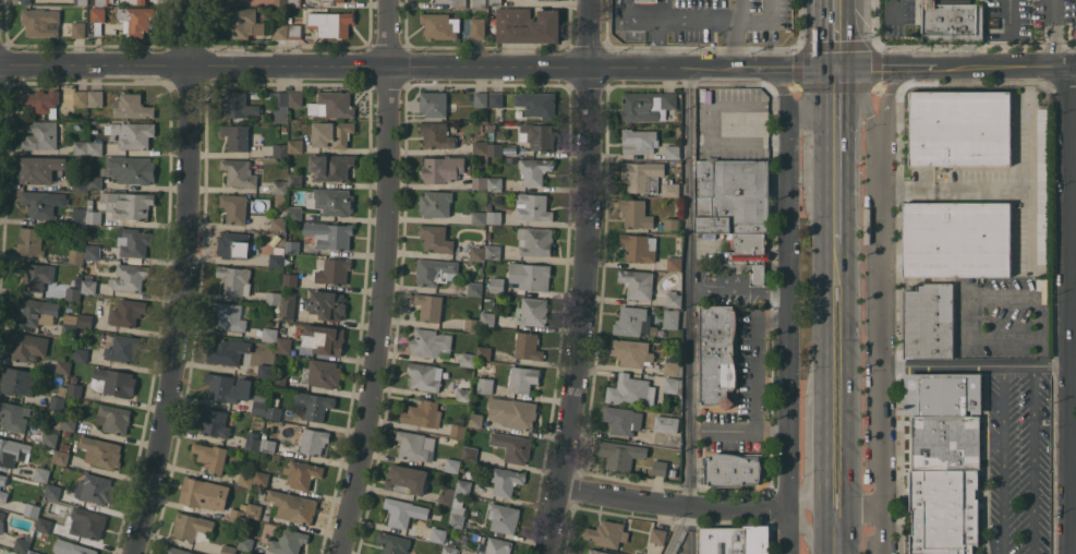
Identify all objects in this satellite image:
building: (230, 0)
building: (333, 0)
building: (648, 0)
building: (26, 1)
building: (142, 1)
building: (495, 1)
building: (81, 2)
building: (99, 2)
building: (280, 2)
building: (295, 3)
building: (479, 3)
building: (461, 4)
road: (1012, 10)
road: (739, 11)
building: (97, 17)
building: (136, 19)
building: (290, 19)
building: (952, 20)
building: (40, 22)
building: (242, 22)
road: (698, 22)
building: (330, 23)
building: (439, 25)
building: (528, 25)
building: (477, 27)
building: (78, 29)
building: (280, 31)
building: (295, 31)
road: (1056, 33)
road: (838, 34)
road: (737, 45)
road: (383, 65)
road: (802, 68)
road: (957, 68)
traffic signals: (838, 69)
building: (81, 97)
building: (96, 97)
building: (295, 98)
building: (481, 98)
building: (496, 98)
road: (815, 99)
building: (41, 100)
building: (238, 104)
building: (333, 104)
building: (435, 104)
building: (537, 104)
building: (646, 105)
building: (132, 106)
building: (279, 106)
road: (860, 106)
building: (493, 127)
building: (960, 127)
building: (454, 128)
road: (1073, 131)
building: (133, 133)
building: (331, 133)
building: (40, 135)
building: (437, 135)
building: (539, 135)
building: (237, 136)
building: (639, 140)
building: (295, 145)
building: (96, 146)
building: (481, 146)
building: (81, 147)
building: (495, 148)
building: (280, 149)
building: (673, 152)
road: (838, 164)
building: (330, 167)
building: (40, 168)
building: (442, 168)
building: (132, 169)
building: (534, 169)
building: (242, 171)
building: (642, 176)
building: (295, 179)
building: (81, 182)
building: (95, 182)
building: (480, 182)
building: (495, 183)
building: (1041, 185)
building: (280, 186)
building: (670, 186)
building: (291, 191)
road: (1018, 191)
building: (336, 202)
building: (43, 203)
building: (435, 203)
building: (128, 204)
building: (532, 206)
building: (234, 207)
building: (735, 208)
building: (294, 212)
building: (93, 213)
building: (636, 213)
building: (494, 216)
building: (80, 217)
building: (480, 217)
building: (278, 222)
building: (669, 224)
road: (1029, 230)
building: (329, 234)
building: (488, 234)
building: (435, 238)
building: (957, 239)
building: (534, 240)
building: (31, 241)
building: (133, 241)
building: (233, 244)
building: (292, 246)
building: (638, 246)
building: (92, 251)
building: (494, 252)
building: (476, 253)
building: (76, 255)
building: (276, 260)
building: (674, 263)
building: (333, 270)
building: (434, 270)
building: (35, 274)
building: (530, 275)
building: (130, 277)
road: (587, 278)
road: (183, 279)
building: (234, 279)
building: (290, 279)
road: (382, 279)
building: (638, 282)
building: (497, 285)
road: (788, 285)
building: (89, 286)
building: (474, 288)
building: (75, 289)
road: (739, 290)
building: (274, 298)
building: (673, 298)
building: (328, 304)
building: (288, 306)
building: (430, 306)
road: (883, 308)
road: (1069, 310)
building: (35, 311)
building: (532, 311)
building: (128, 312)
road: (689, 312)
building: (231, 315)
building: (488, 318)
building: (669, 318)
building: (86, 321)
building: (632, 321)
building: (929, 321)
building: (472, 324)
building: (69, 325)
building: (82, 332)
building: (270, 334)
building: (324, 338)
building: (283, 340)
building: (26, 346)
building: (431, 346)
building: (528, 346)
building: (123, 348)
building: (228, 351)
building: (631, 351)
building: (485, 352)
building: (467, 353)
building: (718, 354)
building: (81, 356)
building: (254, 357)
road: (977, 365)
building: (63, 366)
building: (670, 366)
building: (265, 368)
building: (322, 373)
building: (425, 375)
building: (74, 378)
building: (522, 378)
building: (279, 380)
building: (17, 381)
building: (113, 382)
building: (670, 384)
building: (485, 385)
building: (227, 387)
building: (75, 389)
building: (463, 389)
building: (631, 392)
road: (757, 392)
building: (943, 393)
building: (59, 398)
building: (259, 404)
building: (315, 405)
road: (837, 407)
building: (512, 411)
building: (703, 411)
building: (53, 412)
building: (274, 412)
building: (423, 413)
building: (13, 415)
building: (114, 418)
building: (622, 419)
building: (476, 420)
building: (59, 421)
building: (214, 422)
building: (69, 423)
building: (666, 423)
building: (458, 430)
building: (67, 433)
building: (50, 437)
building: (253, 441)
building: (314, 441)
building: (946, 443)
building: (268, 445)
building: (415, 445)
building: (64, 446)
building: (512, 446)
building: (51, 449)
building: (13, 451)
building: (101, 451)
building: (471, 454)
building: (620, 454)
building: (210, 456)
building: (62, 457)
road: (1003, 459)
road: (1033, 460)
building: (452, 465)
building: (660, 467)
building: (733, 469)
road: (818, 471)
building: (41, 473)
building: (302, 473)
building: (262, 478)
building: (2, 479)
building: (245, 479)
building: (407, 479)
building: (506, 480)
road: (1073, 484)
building: (464, 486)
building: (95, 489)
building: (55, 491)
building: (204, 493)
building: (2, 495)
building: (447, 497)
road: (673, 504)
building: (293, 505)
building: (32, 509)
road: (860, 509)
building: (254, 510)
building: (458, 510)
building: (398, 511)
building: (944, 511)
building: (238, 515)
building: (504, 517)
building: (1, 522)
building: (87, 522)
building: (45, 525)
building: (193, 527)
building: (437, 529)
road: (803, 530)
road: (788, 531)
building: (607, 533)
building: (657, 534)
building: (475, 537)
building: (735, 540)
building: (289, 541)
building: (246, 542)
building: (24, 543)
building: (394, 543)
building: (493, 546)
building: (228, 549)
building: (81, 550)
building: (450, 550)
building: (178, 551)
building: (599, 551)
building: (34, 552)
building: (464, 553)
building: (582, 553)

